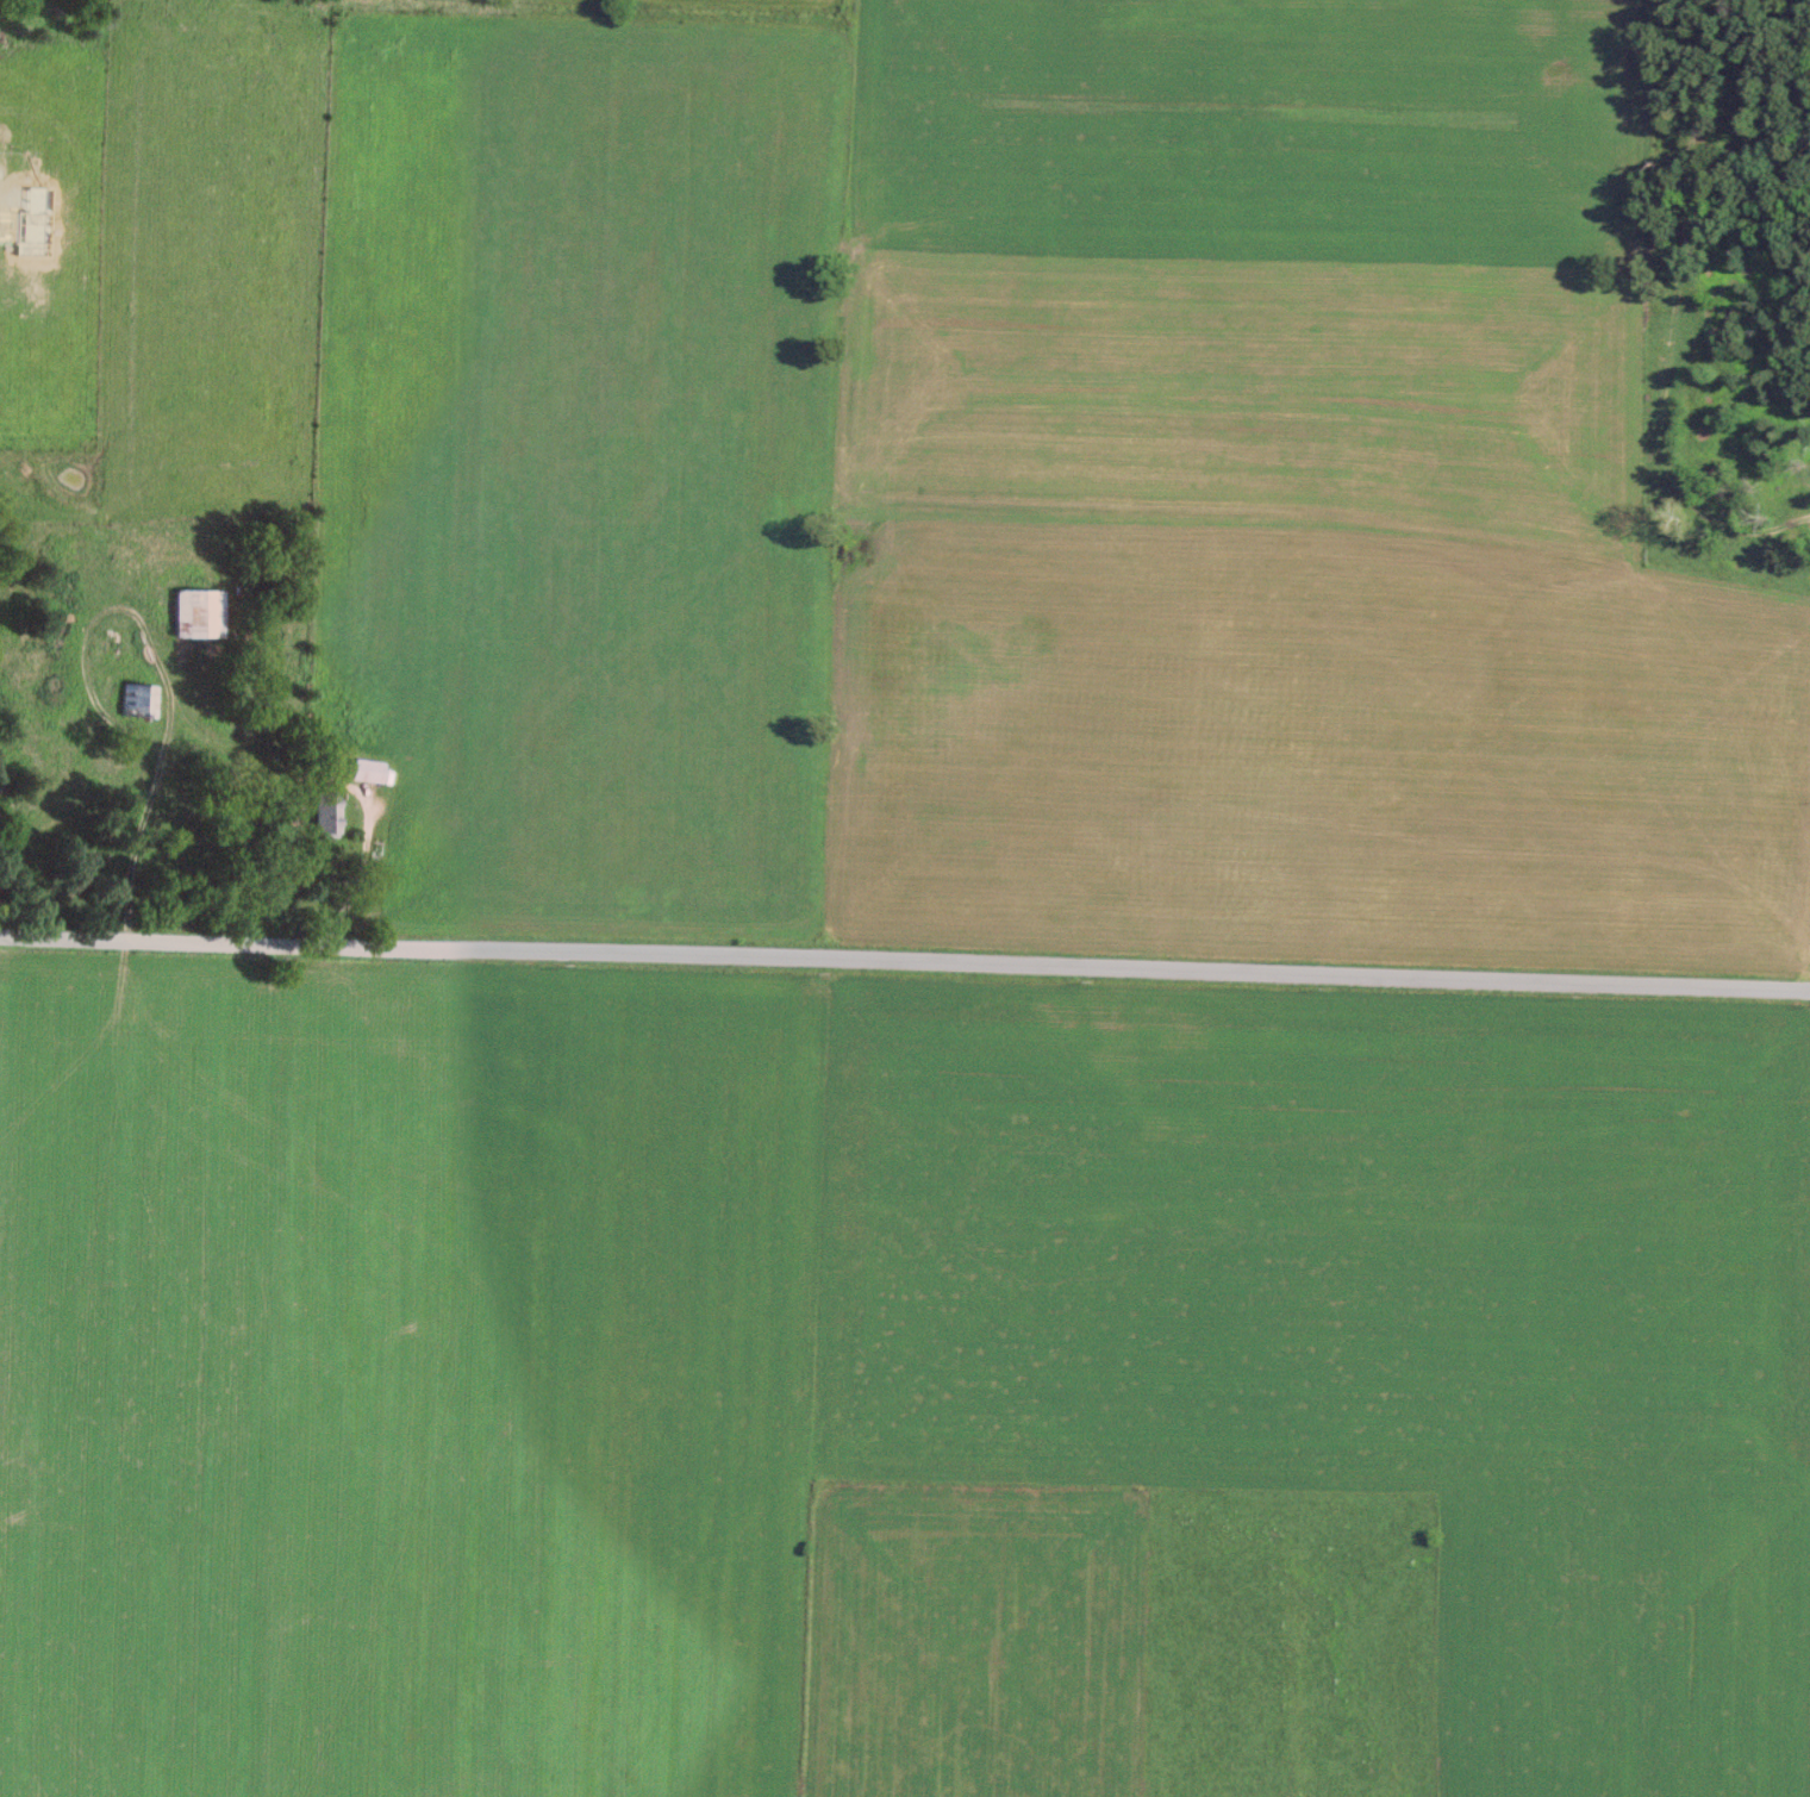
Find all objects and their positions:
building: (116, 544)
building: (200, 612)
building: (139, 699)
building: (369, 769)
building: (329, 812)
road: (357, 865)
road: (905, 961)

